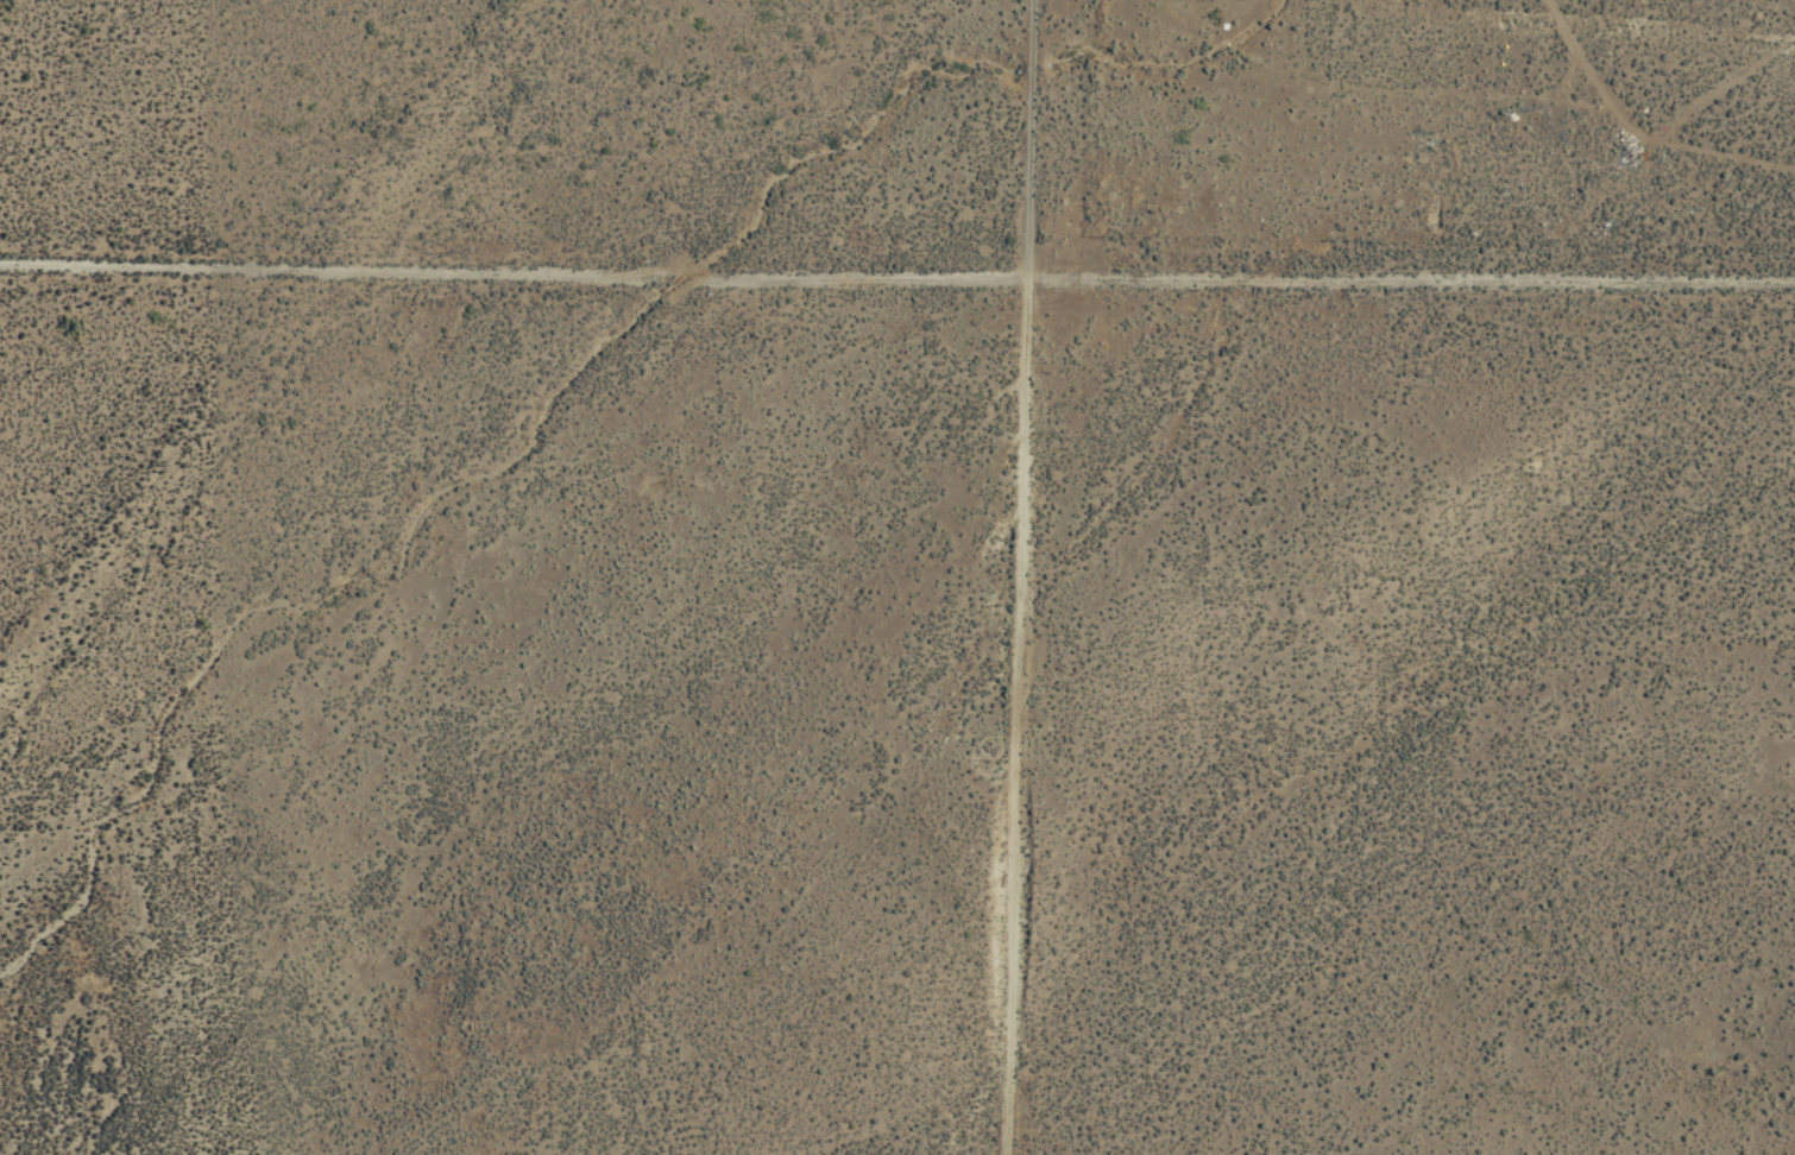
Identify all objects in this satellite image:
road: (896, 274)
crop: (160, 579)

